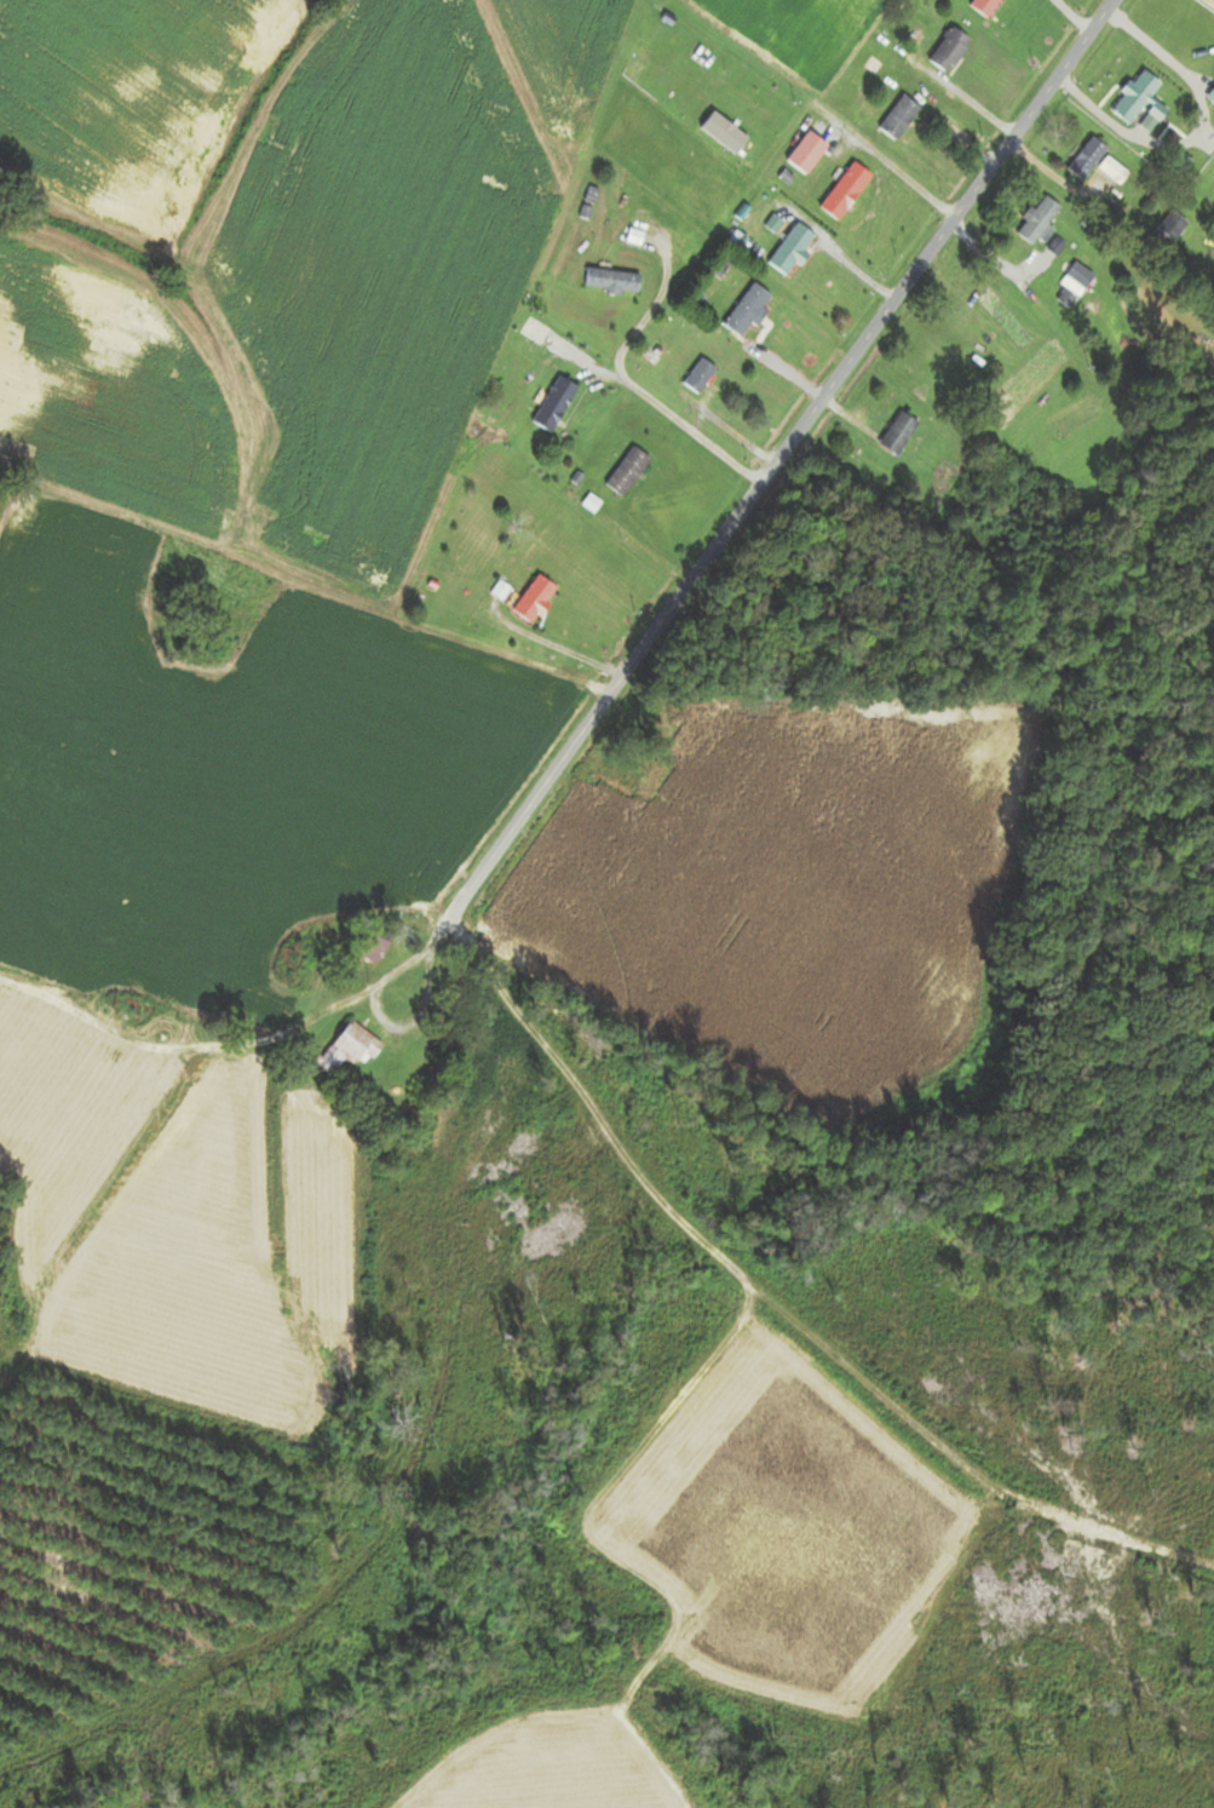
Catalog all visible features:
road: (1209, 2)
building: (979, 7)
building: (940, 52)
building: (1132, 99)
building: (891, 120)
building: (712, 138)
road: (1196, 139)
building: (1087, 163)
building: (1174, 165)
building: (836, 194)
building: (1031, 224)
building: (1164, 228)
building: (784, 251)
road: (842, 258)
building: (1070, 280)
building: (606, 283)
building: (740, 312)
building: (524, 339)
road: (859, 346)
building: (692, 377)
building: (548, 406)
road: (658, 423)
building: (890, 435)
building: (620, 472)
building: (528, 601)
road: (464, 642)
building: (318, 943)
building: (347, 1048)
road: (686, 1227)

